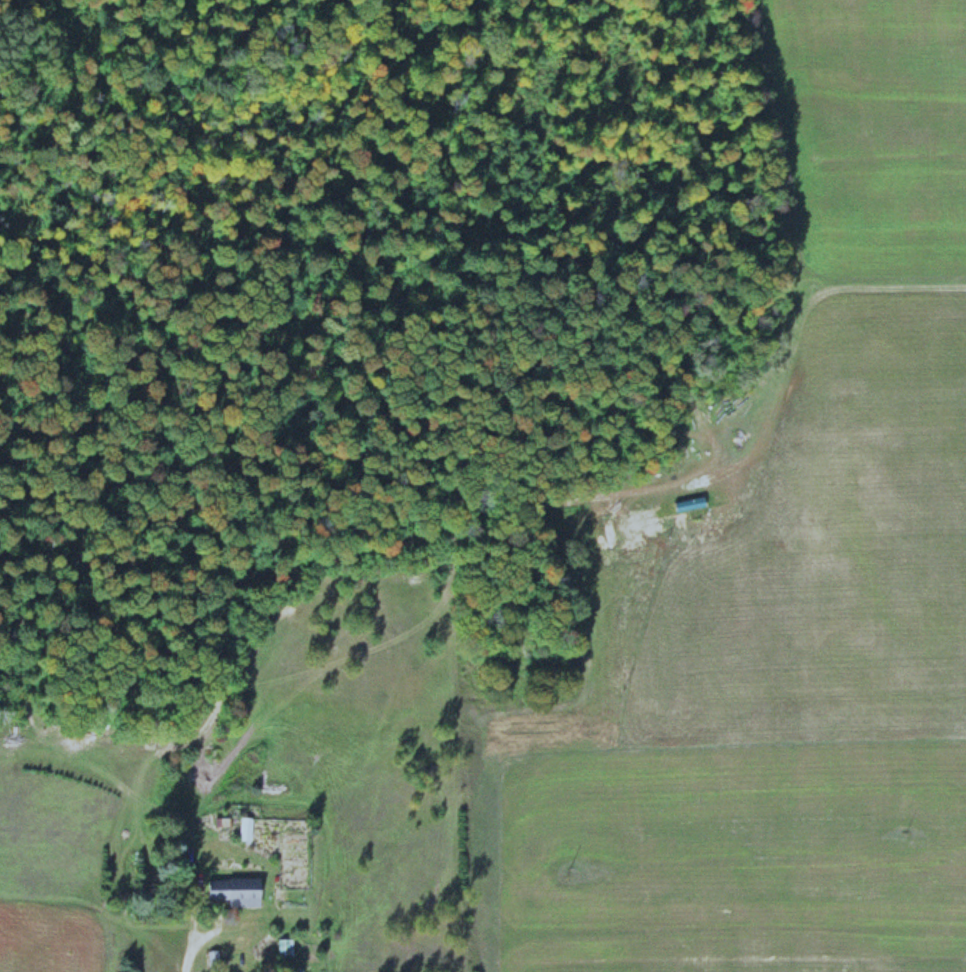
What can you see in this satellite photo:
building: (234, 889)
road: (208, 928)
road: (190, 939)

